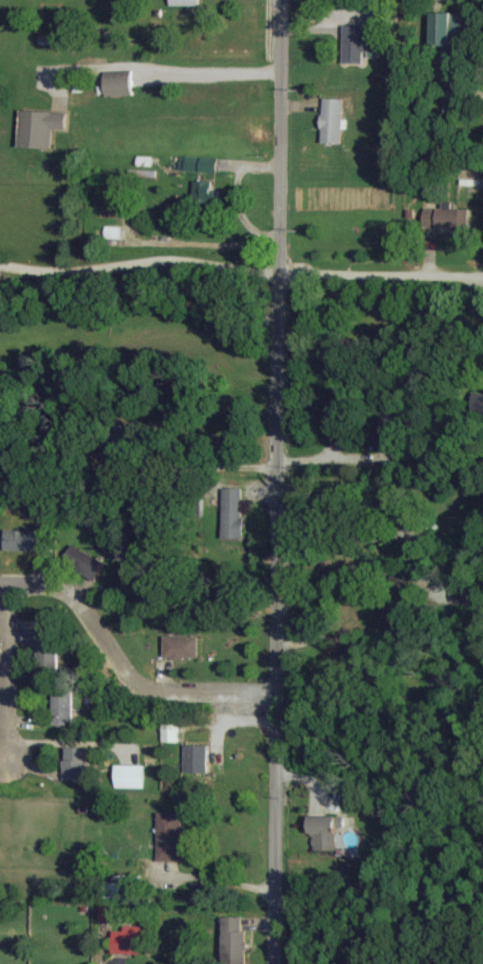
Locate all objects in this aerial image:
building: (185, 2)
building: (447, 27)
building: (362, 42)
road: (168, 68)
building: (120, 85)
building: (334, 120)
building: (41, 127)
building: (200, 163)
building: (206, 192)
road: (237, 196)
building: (447, 217)
road: (205, 246)
road: (140, 260)
road: (382, 275)
road: (473, 282)
building: (478, 405)
road: (217, 468)
road: (280, 481)
building: (234, 512)
building: (23, 540)
road: (346, 541)
building: (85, 562)
road: (333, 590)
building: (470, 593)
building: (45, 647)
building: (182, 647)
road: (127, 667)
road: (9, 679)
building: (63, 708)
building: (172, 732)
building: (198, 759)
building: (76, 763)
building: (131, 776)
building: (325, 831)
building: (170, 836)
road: (216, 878)
building: (119, 890)
building: (111, 914)
building: (129, 940)
building: (236, 941)

